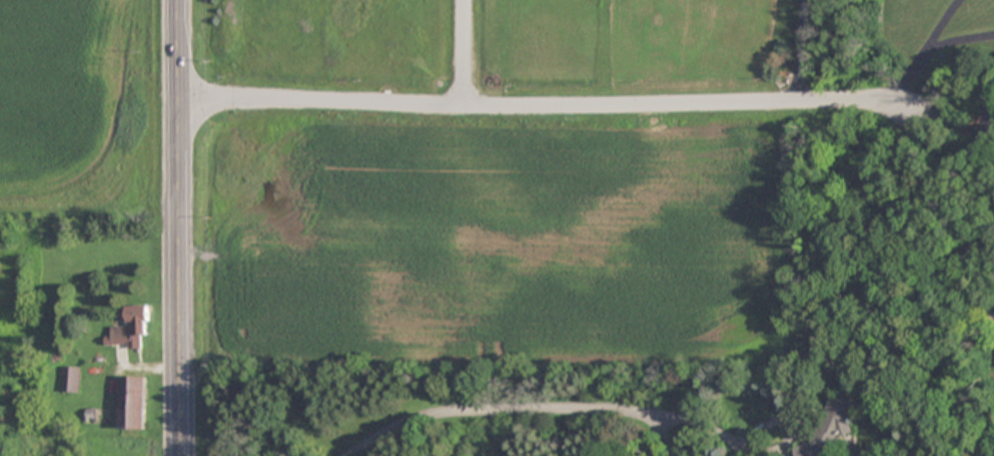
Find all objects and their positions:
road: (933, 25)
road: (955, 40)
road: (799, 51)
road: (465, 53)
road: (902, 77)
road: (546, 107)
road: (180, 227)
building: (131, 329)
building: (70, 380)
building: (132, 403)
road: (559, 405)
building: (93, 414)
building: (832, 429)

